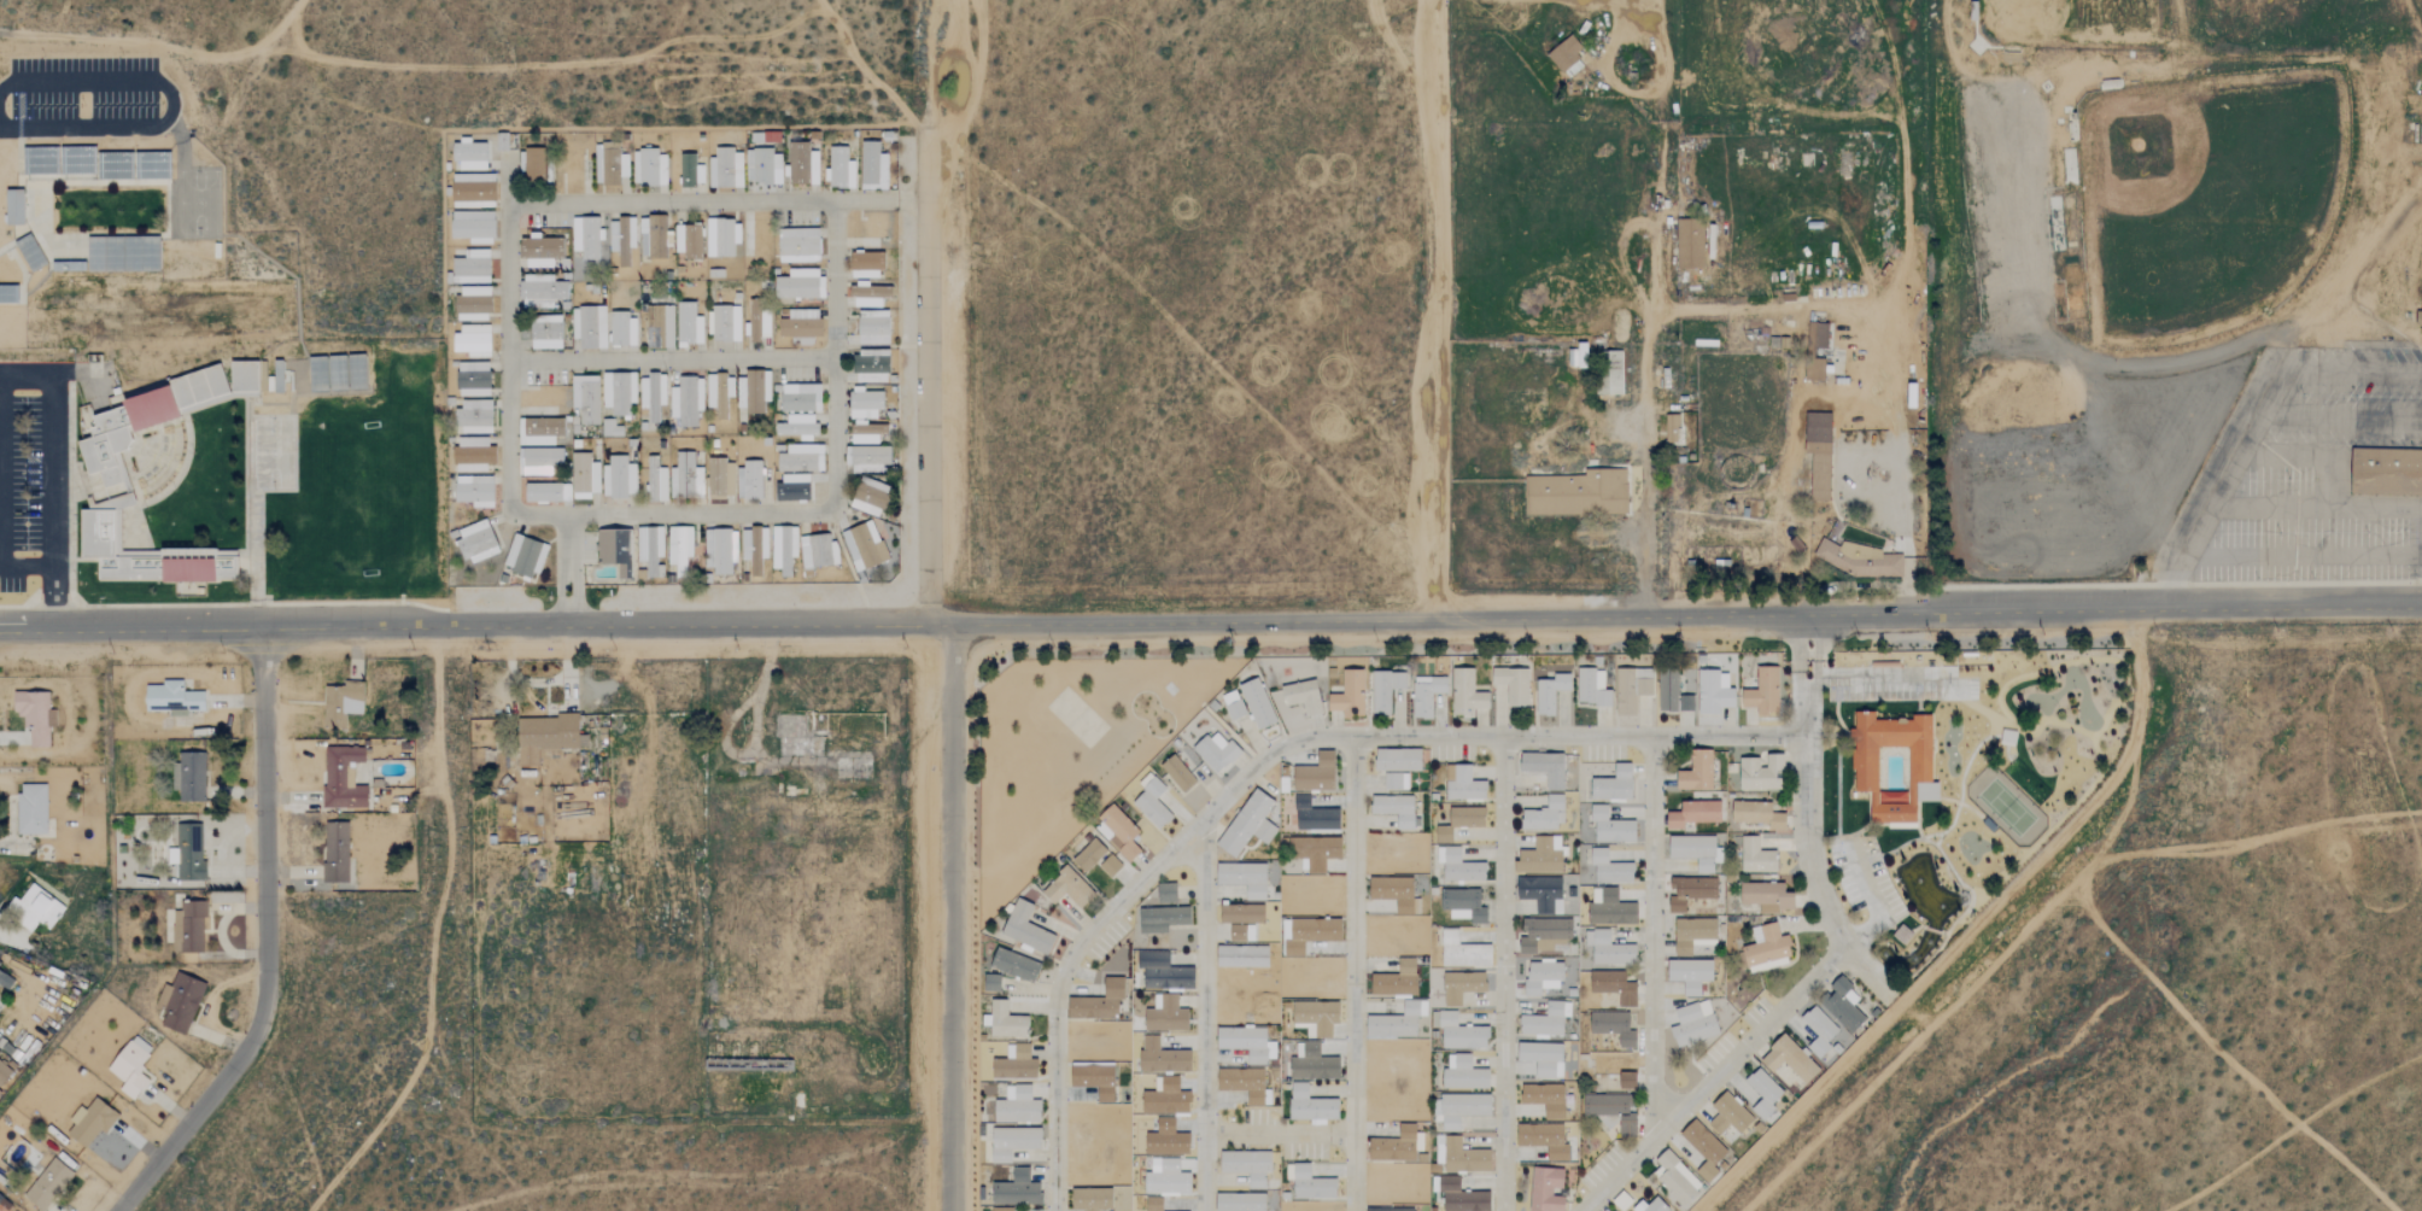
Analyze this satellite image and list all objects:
road: (1630, 0)
road: (1636, 17)
building: (1566, 57)
road: (947, 68)
road: (1608, 70)
parking lot: (83, 87)
road: (170, 100)
building: (469, 156)
building: (533, 164)
building: (609, 164)
building: (802, 164)
building: (762, 168)
building: (873, 168)
building: (648, 169)
building: (725, 169)
building: (839, 170)
building: (690, 171)
road: (507, 181)
building: (473, 191)
park: (2205, 193)
road: (881, 199)
park: (199, 200)
road: (826, 200)
building: (28, 206)
building: (473, 227)
building: (586, 238)
building: (654, 238)
building: (721, 239)
building: (625, 240)
building: (688, 241)
building: (1690, 244)
building: (797, 246)
road: (2354, 248)
building: (539, 251)
building: (866, 265)
building: (472, 268)
building: (800, 285)
building: (540, 292)
building: (8, 293)
building: (870, 296)
building: (472, 305)
road: (1433, 309)
building: (2418, 317)
building: (724, 324)
building: (688, 326)
building: (765, 326)
building: (589, 327)
building: (659, 327)
building: (800, 327)
building: (872, 328)
building: (622, 330)
building: (545, 333)
building: (1816, 335)
road: (1646, 337)
building: (472, 341)
road: (672, 357)
building: (871, 367)
building: (1814, 372)
building: (1613, 375)
road: (928, 378)
building: (472, 380)
building: (755, 391)
building: (619, 392)
road: (2096, 392)
building: (653, 394)
building: (719, 396)
building: (585, 398)
building: (800, 398)
building: (686, 400)
building: (865, 404)
building: (474, 417)
building: (797, 426)
building: (612, 428)
building: (1671, 429)
building: (539, 431)
building: (866, 432)
park: (274, 451)
building: (1818, 454)
building: (473, 455)
building: (801, 458)
building: (867, 460)
building: (183, 461)
building: (539, 461)
building: (2386, 469)
road: (53, 473)
building: (584, 476)
building: (685, 478)
building: (619, 479)
building: (720, 479)
road: (1902, 479)
building: (655, 481)
building: (749, 481)
parking lot: (18, 484)
building: (792, 489)
building: (474, 491)
building: (546, 493)
building: (1578, 495)
road: (0, 497)
building: (870, 497)
building: (475, 542)
building: (864, 546)
building: (679, 549)
building: (754, 549)
building: (784, 549)
building: (650, 550)
building: (615, 551)
building: (720, 551)
building: (818, 551)
road: (2300, 554)
building: (523, 557)
building: (1856, 560)
road: (1850, 584)
road: (1211, 620)
road: (1807, 673)
building: (1513, 684)
building: (1592, 688)
building: (1385, 689)
building: (1631, 689)
building: (1762, 691)
building: (1550, 692)
building: (1714, 692)
building: (1426, 694)
building: (1466, 694)
building: (1672, 694)
building: (1349, 695)
building: (1303, 696)
building: (171, 697)
building: (340, 702)
building: (1233, 703)
building: (1257, 703)
building: (34, 715)
building: (544, 737)
road: (1355, 745)
building: (1216, 751)
road: (1270, 755)
building: (1397, 759)
building: (1894, 764)
building: (1544, 767)
building: (1176, 772)
building: (1697, 772)
building: (1316, 773)
building: (1761, 773)
building: (189, 776)
building: (341, 778)
building: (1396, 780)
building: (1614, 784)
building: (1464, 785)
building: (1151, 802)
building: (30, 808)
building: (1394, 809)
building: (1545, 814)
building: (1693, 814)
building: (1757, 814)
building: (1314, 815)
building: (1467, 817)
building: (1248, 824)
building: (1610, 826)
building: (1117, 832)
building: (1444, 833)
building: (1692, 850)
building: (187, 852)
building: (334, 852)
building: (1314, 852)
building: (1540, 856)
building: (1756, 856)
building: (1095, 859)
building: (1459, 866)
building: (1609, 868)
building: (1244, 878)
building: (1067, 888)
building: (1690, 891)
building: (1166, 893)
building: (1394, 893)
building: (1541, 894)
building: (1767, 896)
building: (1463, 905)
building: (35, 907)
building: (1610, 908)
building: (1242, 914)
road: (952, 915)
building: (1162, 919)
building: (187, 926)
building: (1025, 929)
road: (1970, 931)
building: (1238, 932)
building: (1693, 935)
building: (1901, 935)
building: (1545, 936)
road: (1651, 936)
road: (267, 941)
building: (1767, 950)
building: (1462, 952)
building: (1244, 956)
building: (1014, 965)
building: (1163, 972)
road: (1503, 972)
building: (1690, 973)
building: (1541, 977)
building: (5, 979)
building: (1396, 981)
building: (990, 983)
road: (1058, 984)
building: (1461, 987)
building: (1615, 987)
building: (1098, 1001)
road: (1794, 1001)
building: (177, 1002)
building: (1842, 1005)
road: (1205, 1013)
building: (1165, 1014)
building: (1544, 1020)
building: (1006, 1022)
building: (1393, 1023)
building: (1693, 1024)
building: (1613, 1026)
building: (1458, 1031)
building: (1819, 1031)
building: (1244, 1042)
building: (1162, 1057)
building: (1541, 1058)
building: (1789, 1059)
building: (1014, 1064)
building: (1312, 1064)
building: (129, 1065)
building: (4, 1071)
building: (1463, 1073)
building: (1094, 1080)
building: (1627, 1081)
building: (1242, 1083)
building: (1762, 1093)
building: (1166, 1098)
building: (1545, 1099)
building: (1310, 1105)
building: (1017, 1106)
building: (1462, 1108)
building: (1611, 1111)
building: (1728, 1115)
building: (90, 1122)
road: (1281, 1133)
building: (1166, 1139)
building: (1544, 1140)
building: (1012, 1142)
building: (1394, 1146)
building: (1703, 1148)
building: (1459, 1156)
building: (1247, 1166)
building: (1165, 1177)
building: (1677, 1178)
building: (46, 1180)
building: (1311, 1184)
building: (1546, 1189)
building: (1017, 1190)
building: (1461, 1197)
building: (1090, 1199)
building: (1240, 1201)
building: (1153, 1204)
building: (1652, 1206)
building: (1001, 1209)
building: (1391, 1209)
building: (1609, 1210)

